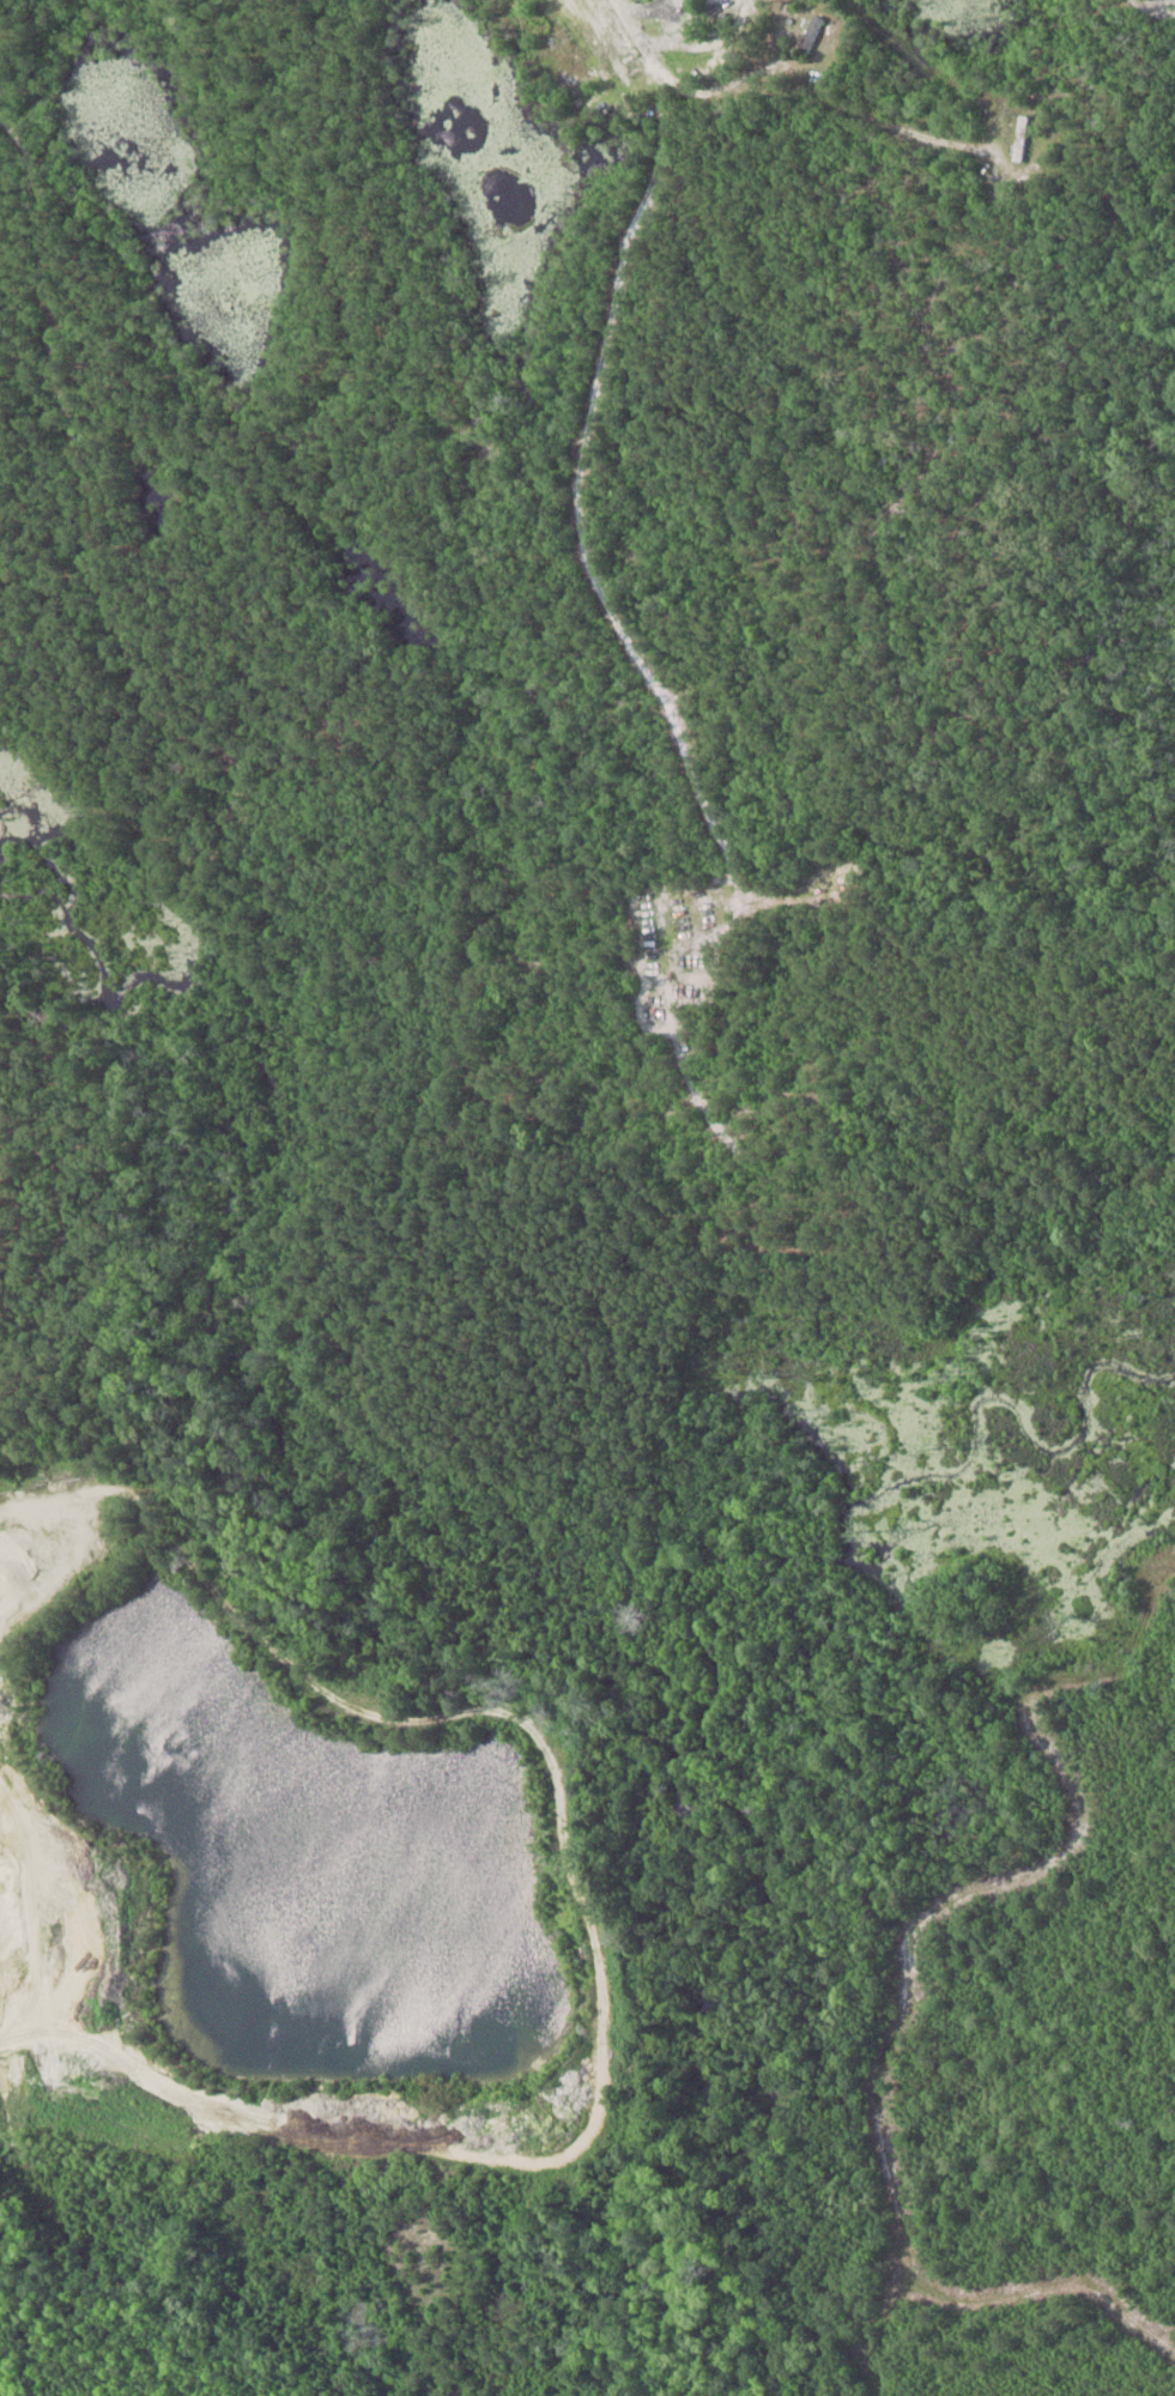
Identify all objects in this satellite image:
road: (620, 14)
building: (810, 35)
building: (1020, 138)

